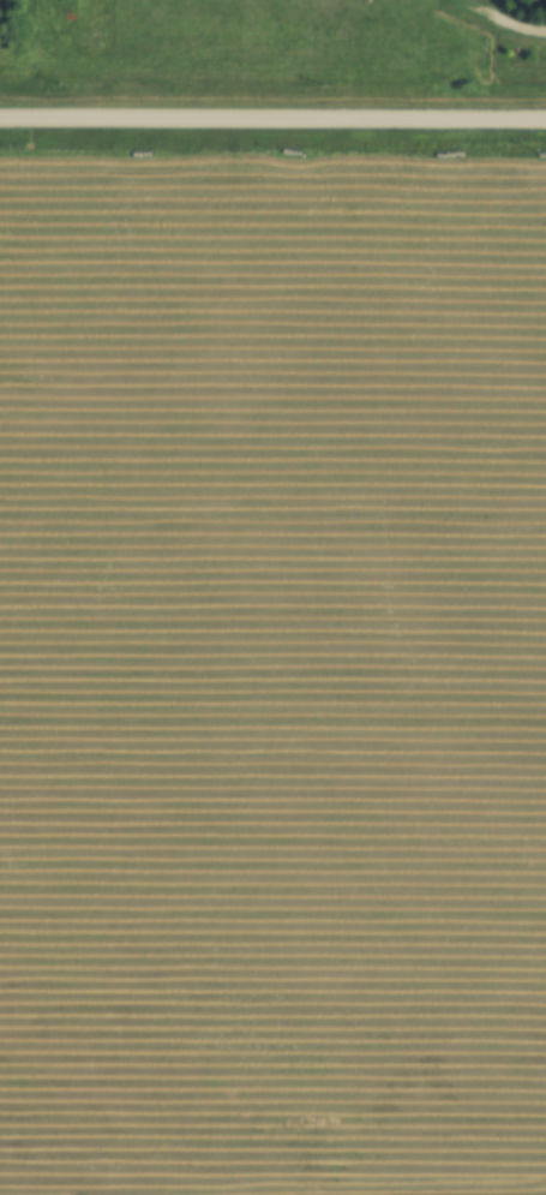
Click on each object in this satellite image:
road: (504, 24)
road: (272, 120)

